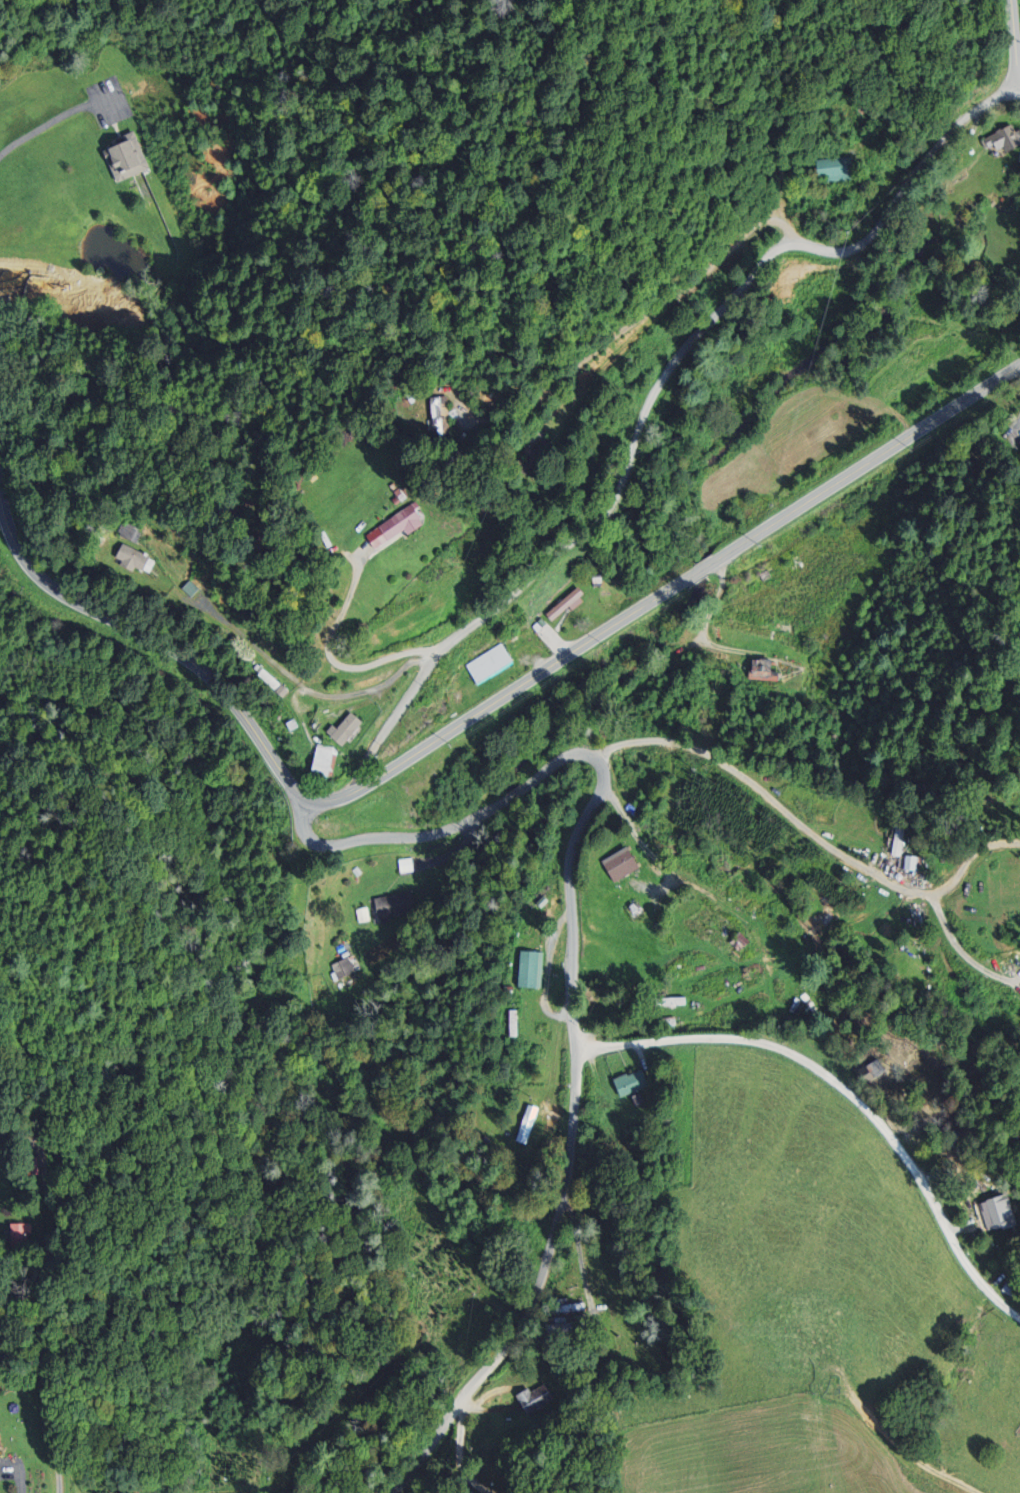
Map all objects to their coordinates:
road: (1015, 47)
road: (51, 122)
building: (1001, 141)
building: (126, 158)
building: (835, 170)
road: (650, 399)
building: (441, 420)
road: (867, 463)
building: (396, 528)
building: (132, 534)
building: (139, 561)
road: (705, 568)
building: (559, 605)
road: (152, 641)
road: (251, 643)
building: (482, 663)
building: (763, 670)
road: (368, 694)
road: (504, 697)
building: (346, 729)
building: (326, 764)
road: (758, 789)
road: (513, 798)
building: (904, 834)
road: (388, 839)
road: (657, 861)
building: (915, 862)
building: (621, 864)
building: (389, 908)
building: (634, 912)
building: (701, 921)
building: (534, 968)
building: (341, 969)
building: (633, 1083)
road: (847, 1092)
road: (574, 1103)
building: (528, 1125)
building: (993, 1215)
building: (20, 1235)
road: (70, 1278)
building: (1013, 1290)
building: (570, 1329)
building: (539, 1398)
road: (47, 1406)
road: (19, 1472)

